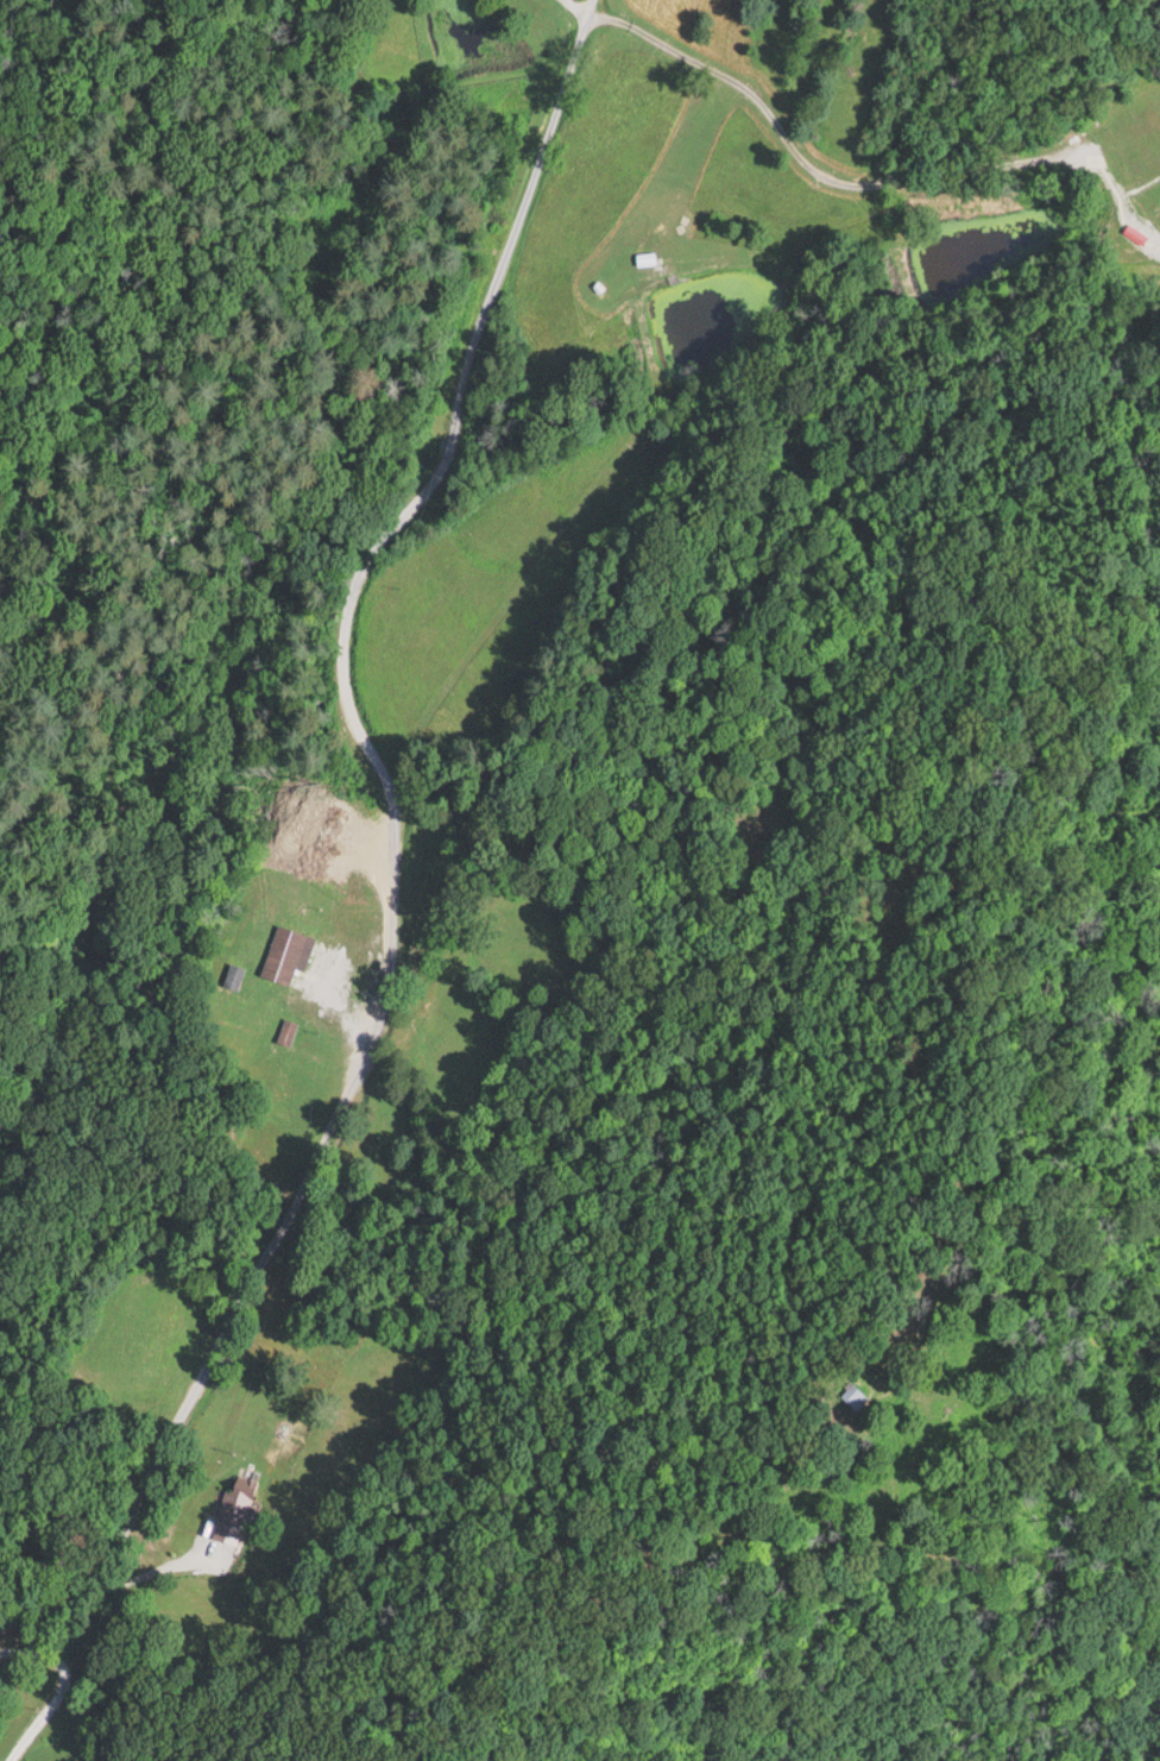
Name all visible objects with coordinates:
road: (737, 84)
building: (645, 257)
road: (390, 842)
building: (286, 952)
building: (233, 976)
building: (285, 1031)
building: (853, 1394)
building: (232, 1510)
road: (140, 1571)
road: (58, 1688)

